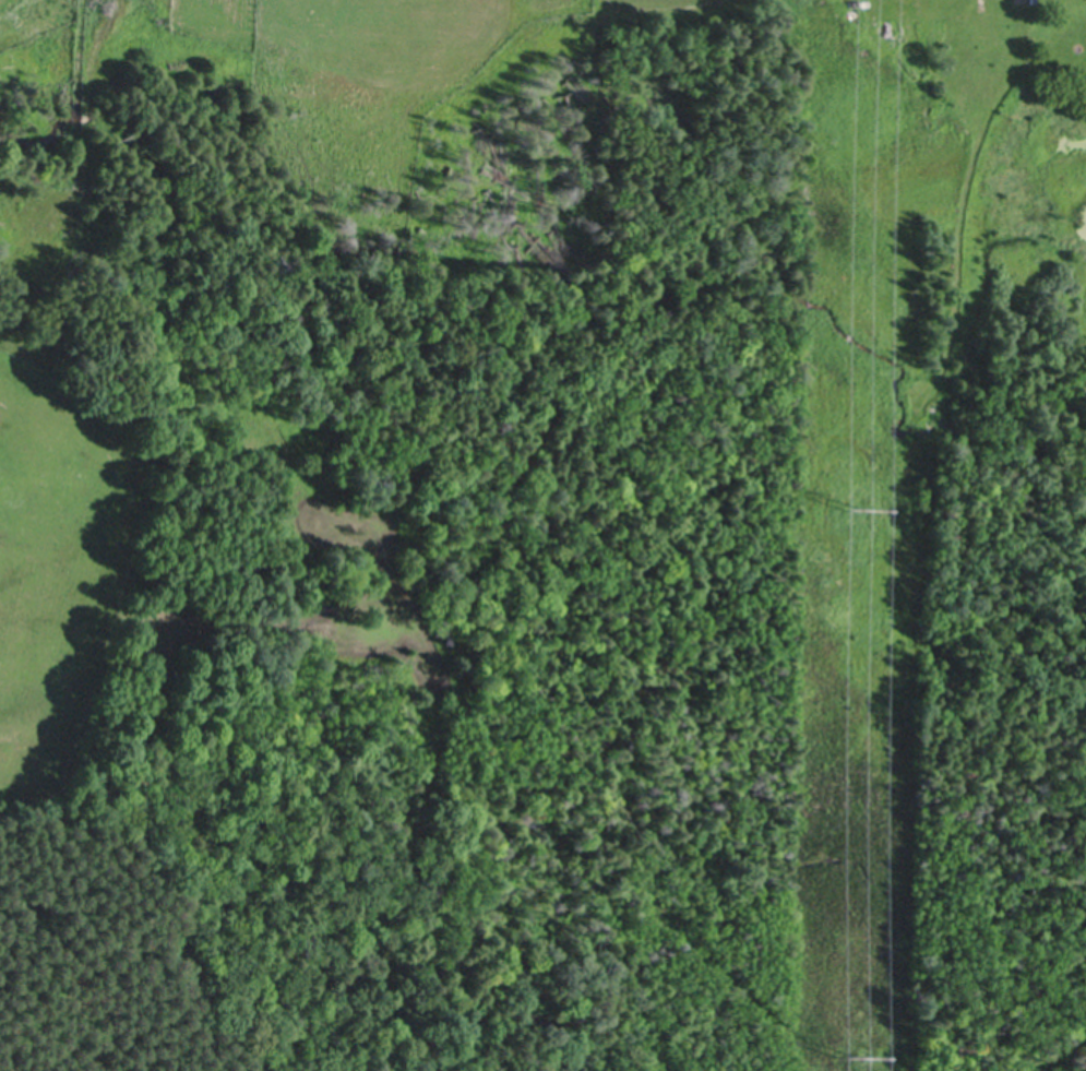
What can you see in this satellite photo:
building: (1007, 3)
power tower: (855, 508)
power tower: (849, 1055)

